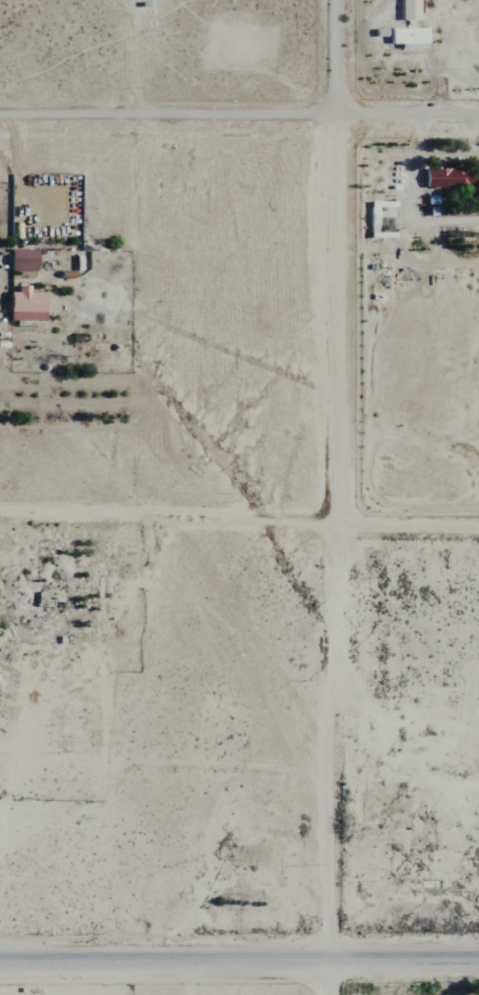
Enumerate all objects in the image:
road: (339, 60)
road: (239, 119)
road: (239, 538)
road: (332, 558)
road: (239, 960)
road: (187, 977)

